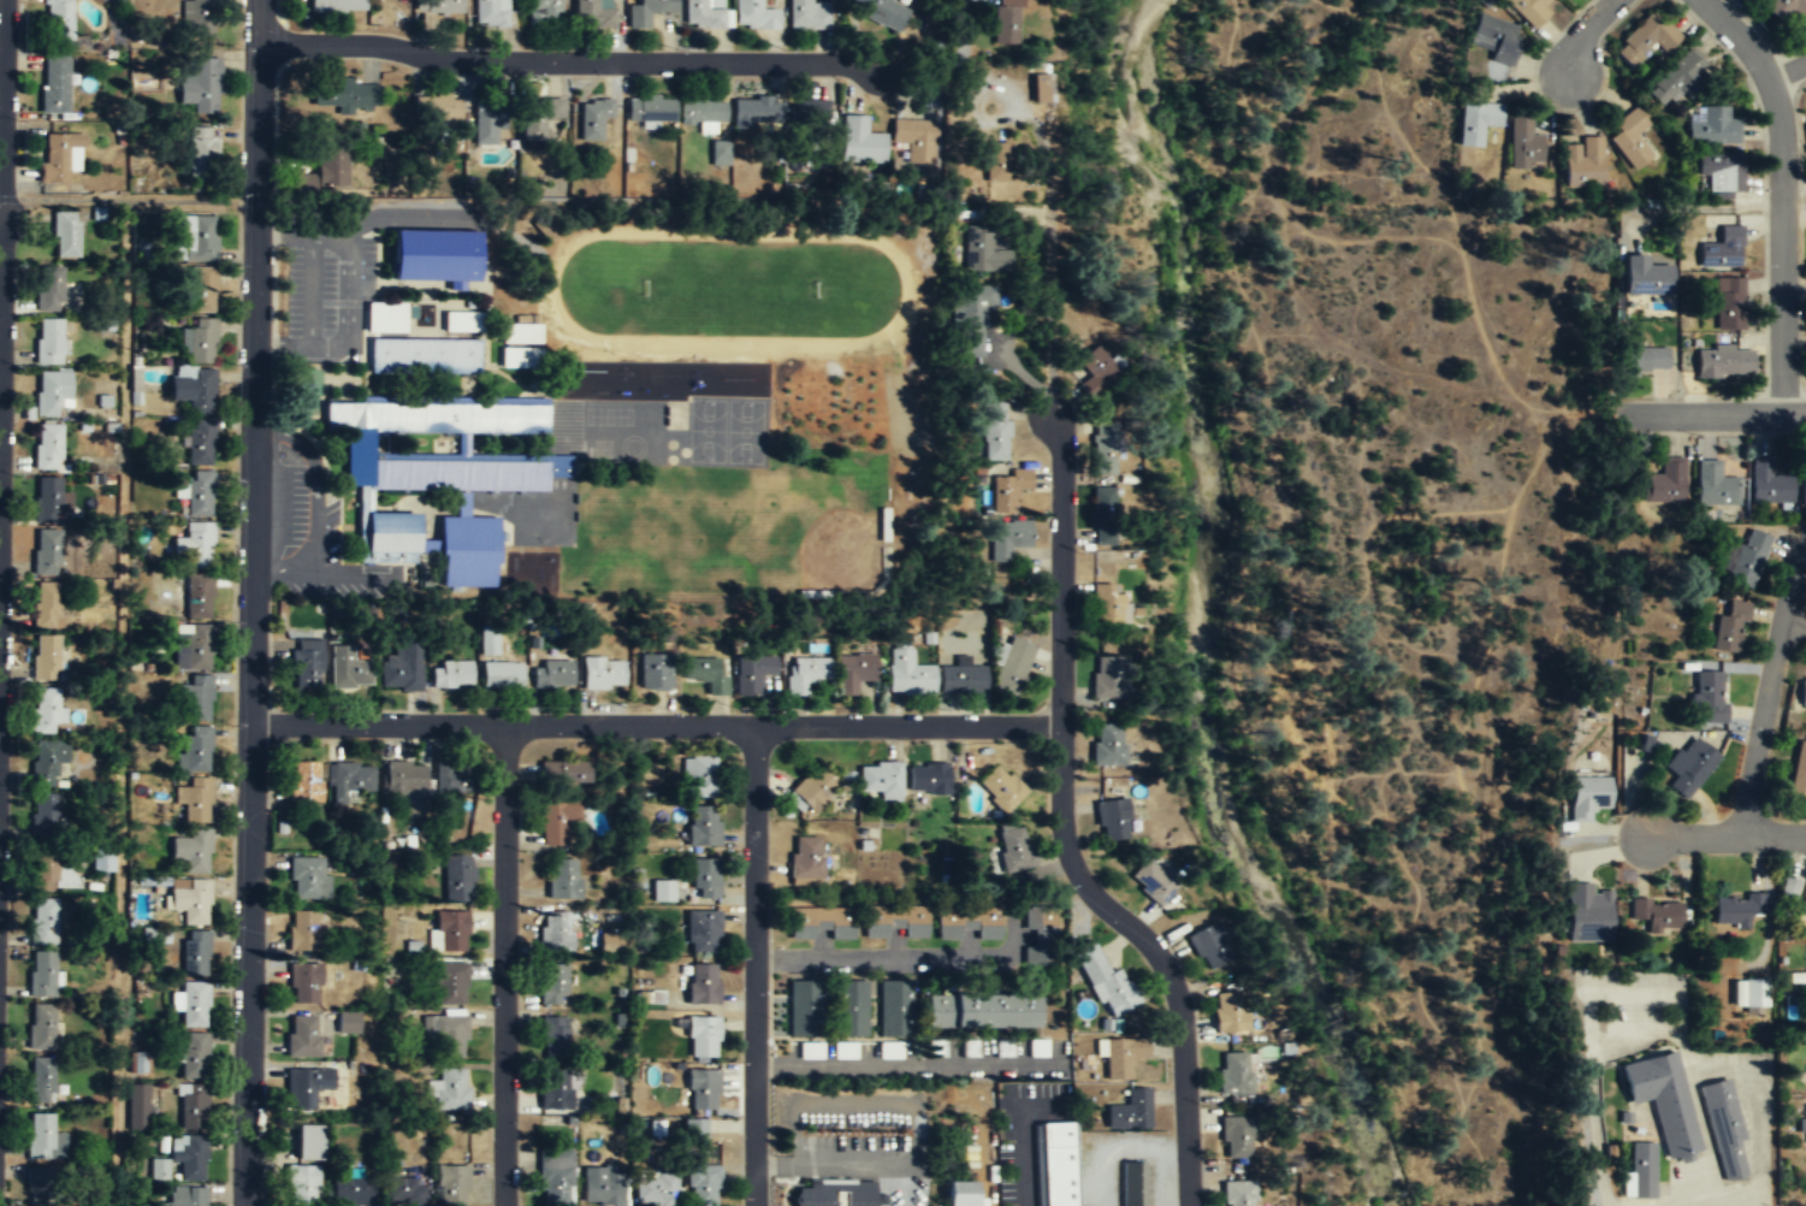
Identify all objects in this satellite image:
building: (337, 5)
building: (431, 5)
building: (1784, 10)
building: (544, 11)
building: (1528, 11)
building: (645, 12)
building: (880, 12)
building: (492, 13)
building: (593, 13)
building: (704, 14)
building: (807, 14)
building: (753, 16)
building: (196, 17)
building: (57, 19)
building: (1006, 22)
road: (1583, 31)
building: (1494, 39)
building: (1645, 39)
street lamp: (237, 48)
road: (569, 60)
road: (1787, 70)
building: (1676, 79)
building: (54, 82)
building: (201, 85)
building: (1038, 88)
building: (345, 94)
building: (438, 108)
building: (650, 110)
building: (753, 110)
building: (701, 112)
building: (538, 118)
street lamp: (19, 119)
building: (592, 119)
building: (486, 122)
building: (810, 122)
building: (1475, 122)
building: (1712, 125)
building: (918, 134)
building: (1629, 138)
building: (860, 140)
building: (1523, 147)
building: (202, 152)
building: (718, 152)
building: (57, 156)
building: (999, 162)
building: (1582, 164)
building: (331, 167)
building: (1721, 171)
road: (1053, 181)
building: (307, 182)
street lamp: (238, 193)
road: (1781, 193)
road: (126, 200)
road: (2, 225)
building: (66, 233)
building: (195, 238)
building: (1721, 249)
building: (983, 252)
building: (433, 256)
street lamp: (19, 262)
building: (1644, 277)
building: (200, 286)
building: (48, 289)
park: (728, 289)
road: (347, 294)
building: (1728, 306)
building: (975, 315)
building: (384, 318)
building: (462, 323)
building: (520, 335)
building: (49, 341)
building: (197, 342)
building: (424, 357)
building: (520, 359)
building: (1642, 360)
street lamp: (235, 362)
building: (1723, 362)
street lamp: (17, 365)
building: (1096, 370)
building: (734, 379)
street lamp: (1064, 386)
building: (193, 390)
building: (51, 391)
road: (1718, 412)
building: (434, 419)
building: (996, 431)
park: (706, 432)
park: (745, 432)
building: (199, 443)
building: (47, 447)
building: (1105, 448)
building: (457, 477)
building: (1664, 484)
building: (1767, 484)
building: (1715, 485)
building: (1008, 489)
building: (1804, 490)
building: (199, 492)
building: (47, 498)
building: (1102, 515)
street lamp: (232, 519)
building: (390, 534)
building: (1008, 538)
building: (194, 545)
building: (46, 551)
building: (467, 551)
street lamp: (1080, 552)
building: (1743, 555)
street lamp: (17, 581)
building: (199, 596)
road: (250, 602)
building: (1109, 603)
building: (46, 604)
river: (1197, 613)
road: (1794, 621)
building: (1728, 627)
building: (491, 638)
building: (191, 646)
building: (45, 658)
building: (306, 664)
building: (1012, 664)
building: (403, 666)
building: (348, 669)
building: (652, 672)
building: (706, 672)
building: (753, 672)
building: (854, 672)
building: (452, 673)
building: (502, 673)
building: (806, 673)
building: (552, 674)
building: (603, 674)
building: (907, 674)
building: (1107, 675)
building: (961, 676)
road: (1767, 687)
building: (1709, 694)
building: (1802, 694)
building: (195, 698)
building: (45, 708)
street lamp: (1079, 709)
street lamp: (231, 725)
road: (656, 725)
building: (1107, 743)
building: (193, 751)
building: (45, 761)
building: (1688, 764)
building: (561, 770)
building: (1798, 772)
building: (699, 776)
building: (881, 778)
building: (451, 779)
building: (928, 779)
building: (405, 780)
building: (348, 781)
building: (303, 784)
building: (812, 787)
building: (999, 787)
building: (1586, 797)
building: (194, 800)
building: (42, 815)
building: (1112, 818)
building: (556, 820)
building: (703, 826)
road: (1062, 833)
road: (1725, 836)
building: (1013, 846)
building: (191, 852)
building: (101, 859)
building: (805, 859)
building: (46, 871)
building: (457, 876)
building: (704, 876)
building: (307, 879)
building: (562, 879)
building: (1153, 881)
street lamp: (1062, 887)
street lamp: (12, 892)
building: (662, 892)
building: (188, 900)
building: (1804, 901)
building: (1735, 908)
building: (1586, 914)
building: (1656, 914)
building: (42, 920)
building: (894, 920)
building: (821, 921)
building: (1040, 921)
building: (967, 922)
street lamp: (229, 928)
building: (451, 928)
building: (555, 928)
building: (701, 929)
building: (301, 932)
building: (609, 942)
building: (1208, 945)
building: (194, 953)
road: (893, 957)
road: (504, 965)
road: (753, 965)
building: (42, 974)
building: (449, 980)
building: (303, 982)
building: (552, 982)
building: (701, 982)
building: (1106, 982)
street lamp: (1189, 982)
building: (1748, 992)
road: (1627, 993)
building: (193, 1005)
building: (804, 1006)
building: (851, 1006)
building: (893, 1009)
building: (982, 1011)
building: (1228, 1011)
street lamp: (772, 1017)
building: (349, 1021)
building: (41, 1025)
building: (449, 1033)
building: (701, 1033)
road: (1638, 1034)
building: (553, 1035)
building: (301, 1036)
building: (970, 1047)
building: (193, 1056)
building: (1120, 1056)
building: (142, 1062)
building: (1233, 1074)
building: (41, 1078)
building: (304, 1086)
building: (701, 1086)
building: (451, 1088)
building: (553, 1088)
building: (1664, 1098)
building: (191, 1107)
road: (1752, 1107)
building: (140, 1109)
building: (1129, 1110)
building: (1724, 1125)
building: (1802, 1127)
building: (43, 1137)
building: (1236, 1137)
building: (308, 1142)
building: (188, 1157)
building: (1056, 1163)
building: (1642, 1169)
building: (158, 1170)
building: (553, 1174)
building: (451, 1182)
building: (701, 1182)
building: (300, 1183)
building: (600, 1183)
building: (1132, 1183)
building: (40, 1186)
building: (656, 1188)
building: (350, 1189)
building: (403, 1189)
building: (960, 1193)
building: (1238, 1193)
building: (183, 1196)
building: (831, 1196)
street lamp: (736, 1198)
road: (1740, 1200)
road: (1705, 1204)

